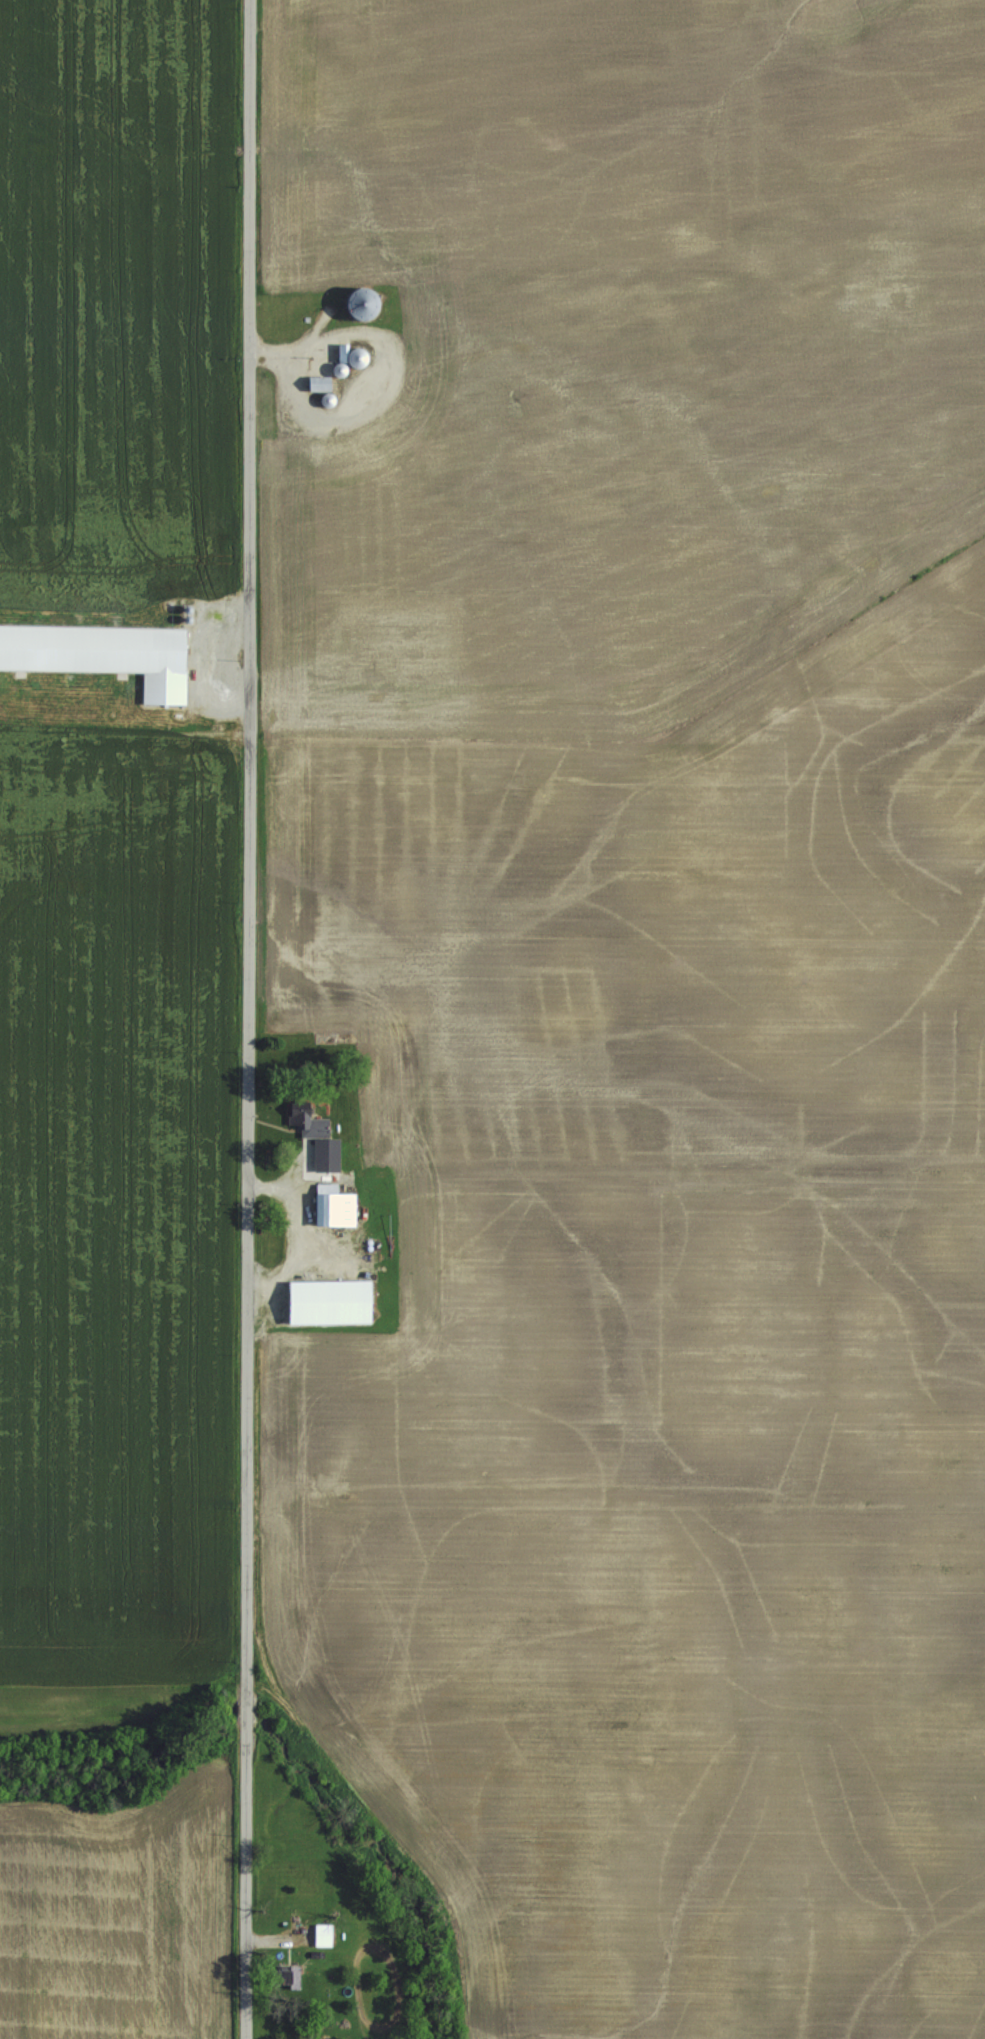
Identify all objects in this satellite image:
building: (105, 653)
road: (243, 1019)
building: (333, 1299)
building: (325, 1933)

